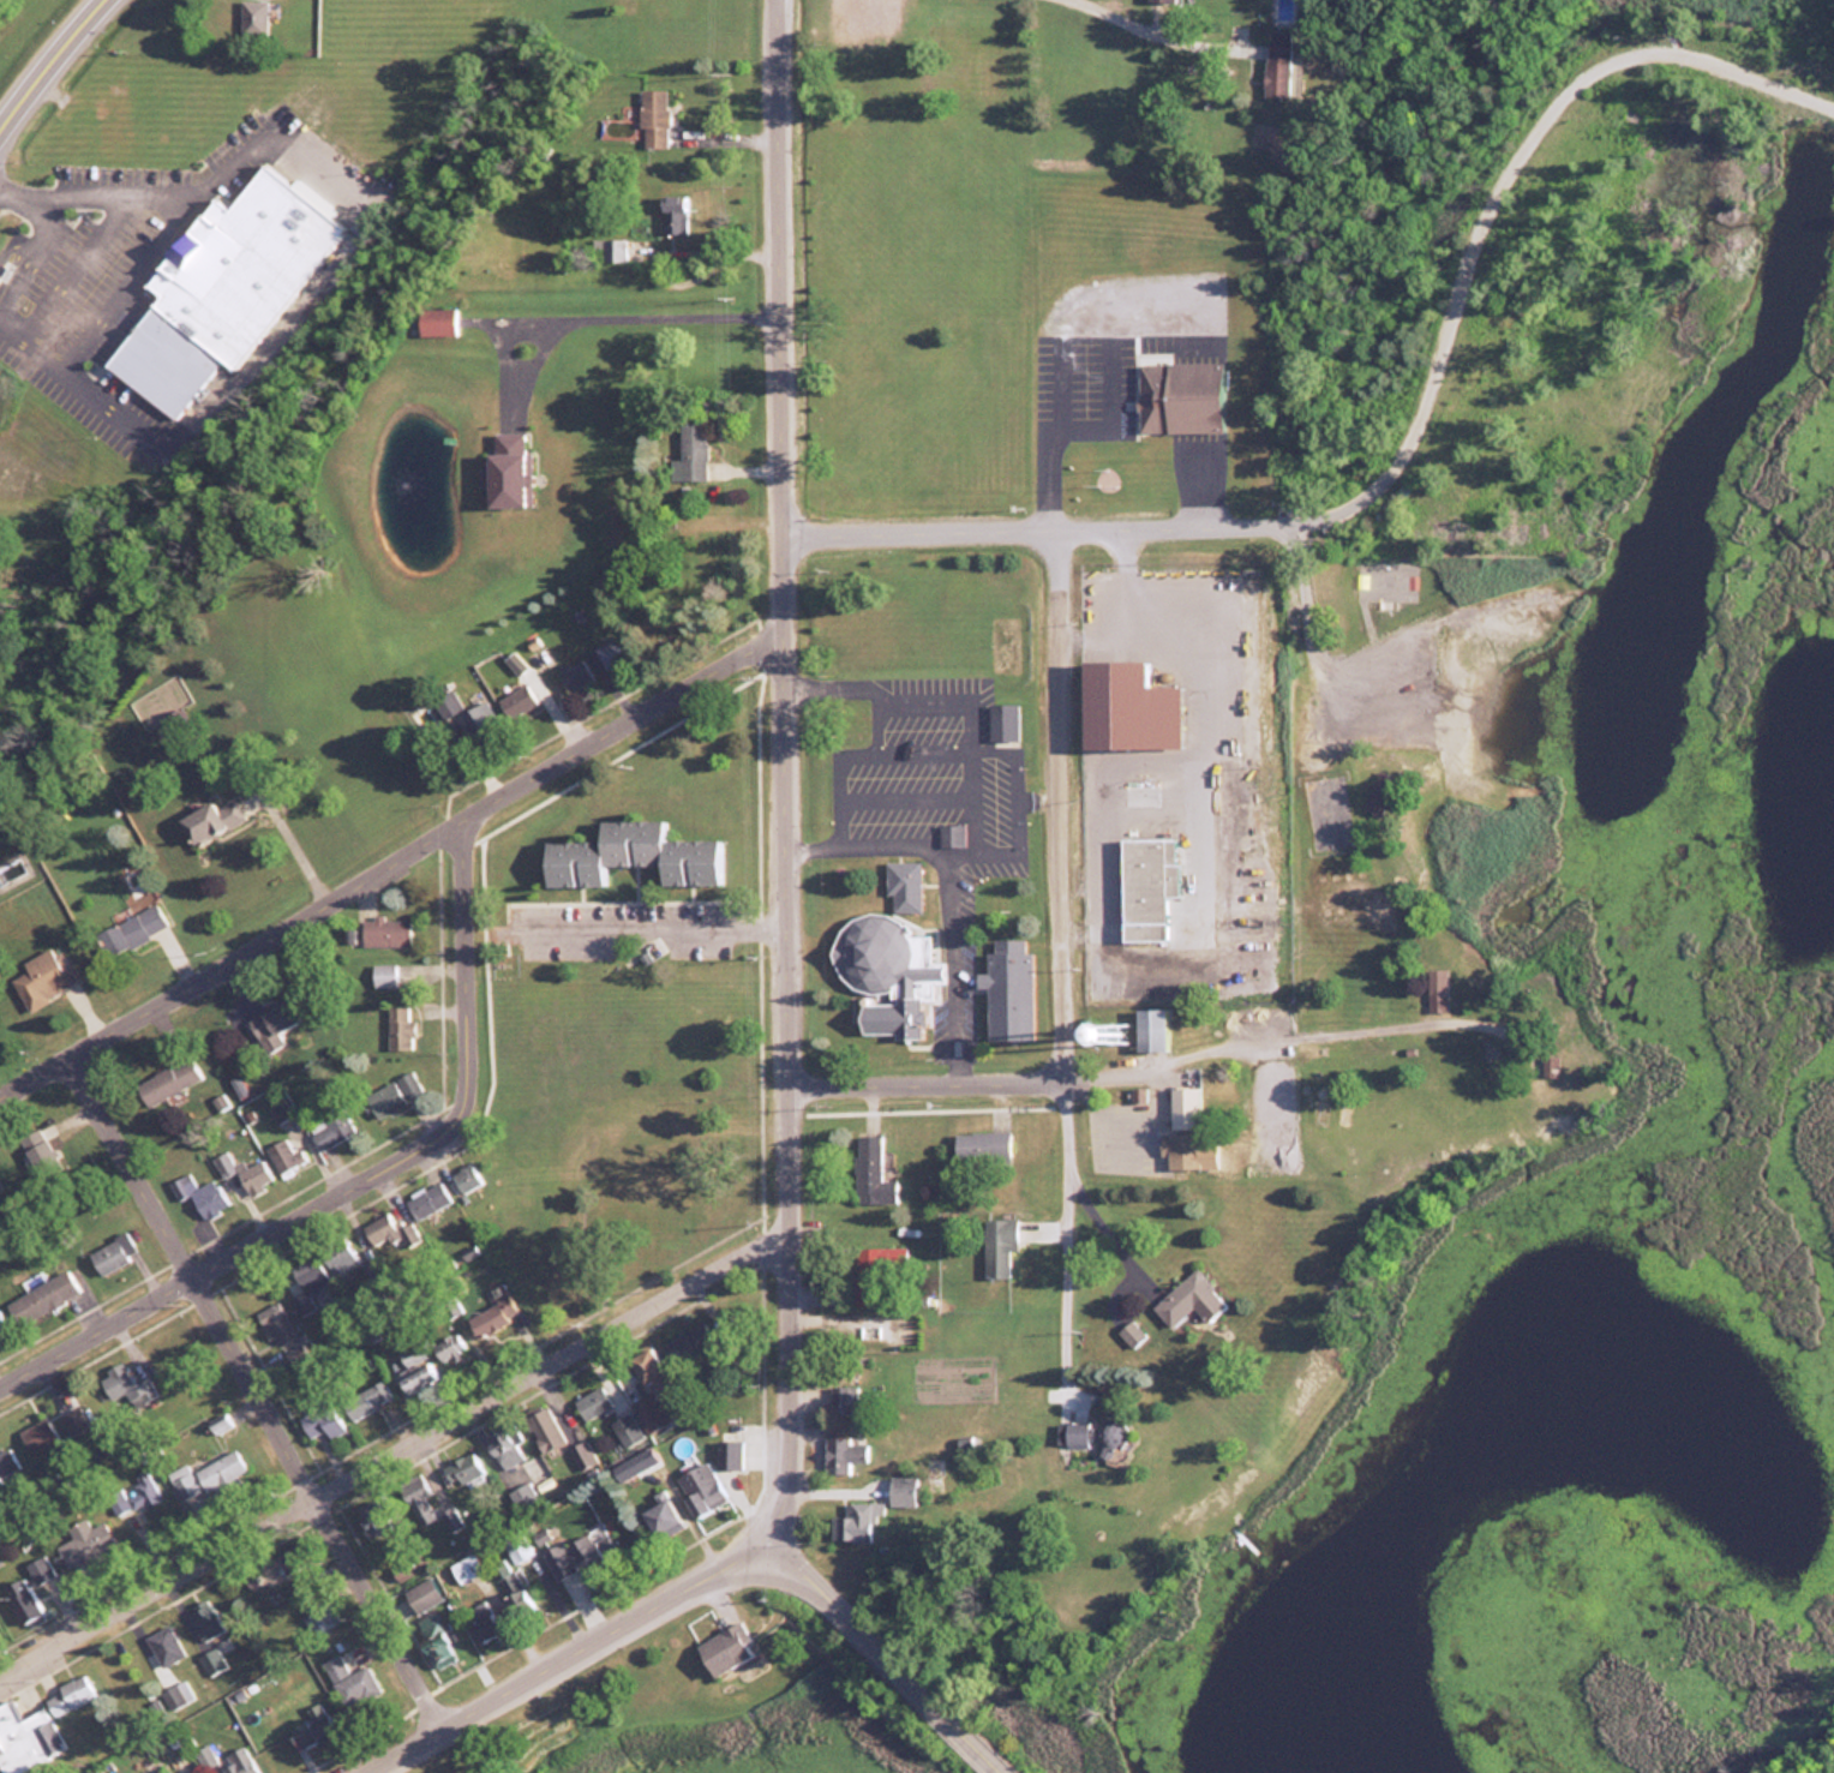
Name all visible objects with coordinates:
building: (1161, 0)
building: (253, 16)
road: (48, 62)
building: (1277, 62)
building: (654, 118)
building: (110, 128)
road: (92, 185)
building: (673, 214)
road: (29, 241)
building: (616, 250)
building: (228, 278)
road: (624, 306)
building: (445, 310)
building: (437, 321)
road: (25, 334)
road: (515, 353)
road: (229, 377)
building: (1179, 397)
road: (1415, 427)
building: (691, 450)
building: (517, 459)
park: (1003, 642)
building: (605, 655)
building: (574, 676)
building: (517, 701)
building: (462, 715)
building: (1132, 715)
road: (628, 720)
building: (1002, 724)
road: (789, 769)
building: (1380, 793)
road: (1057, 799)
park: (1326, 814)
building: (204, 821)
building: (630, 855)
building: (903, 885)
building: (1146, 885)
road: (654, 926)
building: (131, 929)
building: (384, 930)
road: (233, 956)
building: (886, 972)
building: (382, 974)
building: (42, 977)
building: (1007, 989)
building: (1438, 989)
building: (271, 1024)
building: (397, 1026)
building: (1149, 1028)
park: (1421, 1036)
building: (1496, 1067)
road: (1009, 1077)
building: (167, 1080)
building: (407, 1082)
building: (382, 1098)
building: (1183, 1107)
building: (328, 1128)
building: (979, 1146)
building: (1175, 1149)
building: (282, 1155)
building: (869, 1170)
road: (365, 1175)
building: (465, 1175)
building: (252, 1176)
building: (198, 1197)
building: (426, 1199)
road: (1057, 1210)
building: (377, 1228)
building: (996, 1245)
building: (110, 1252)
building: (337, 1257)
building: (874, 1270)
building: (306, 1282)
building: (41, 1296)
building: (1187, 1299)
building: (491, 1314)
building: (0, 1323)
building: (274, 1325)
building: (689, 1342)
building: (446, 1346)
building: (413, 1368)
building: (649, 1370)
road: (257, 1386)
building: (125, 1390)
building: (843, 1397)
building: (593, 1402)
building: (359, 1403)
building: (648, 1412)
building: (319, 1421)
building: (217, 1425)
building: (53, 1427)
building: (543, 1427)
building: (627, 1428)
building: (1091, 1432)
building: (503, 1446)
road: (394, 1448)
building: (727, 1452)
building: (844, 1452)
building: (582, 1454)
building: (7, 1463)
building: (466, 1467)
building: (204, 1475)
building: (701, 1487)
building: (901, 1490)
building: (133, 1495)
building: (415, 1497)
building: (374, 1517)
building: (660, 1517)
building: (855, 1521)
building: (84, 1541)
building: (516, 1546)
building: (579, 1551)
building: (277, 1562)
building: (466, 1567)
building: (253, 1586)
building: (28, 1589)
building: (514, 1592)
building: (421, 1594)
building: (320, 1615)
building: (205, 1621)
building: (483, 1622)
building: (433, 1640)
building: (163, 1645)
building: (725, 1647)
road: (568, 1654)
road: (897, 1657)
building: (212, 1660)
building: (352, 1681)
building: (68, 1693)
building: (176, 1694)
building: (314, 1726)
building: (28, 1738)
building: (205, 1755)
building: (238, 1761)
building: (168, 1771)

